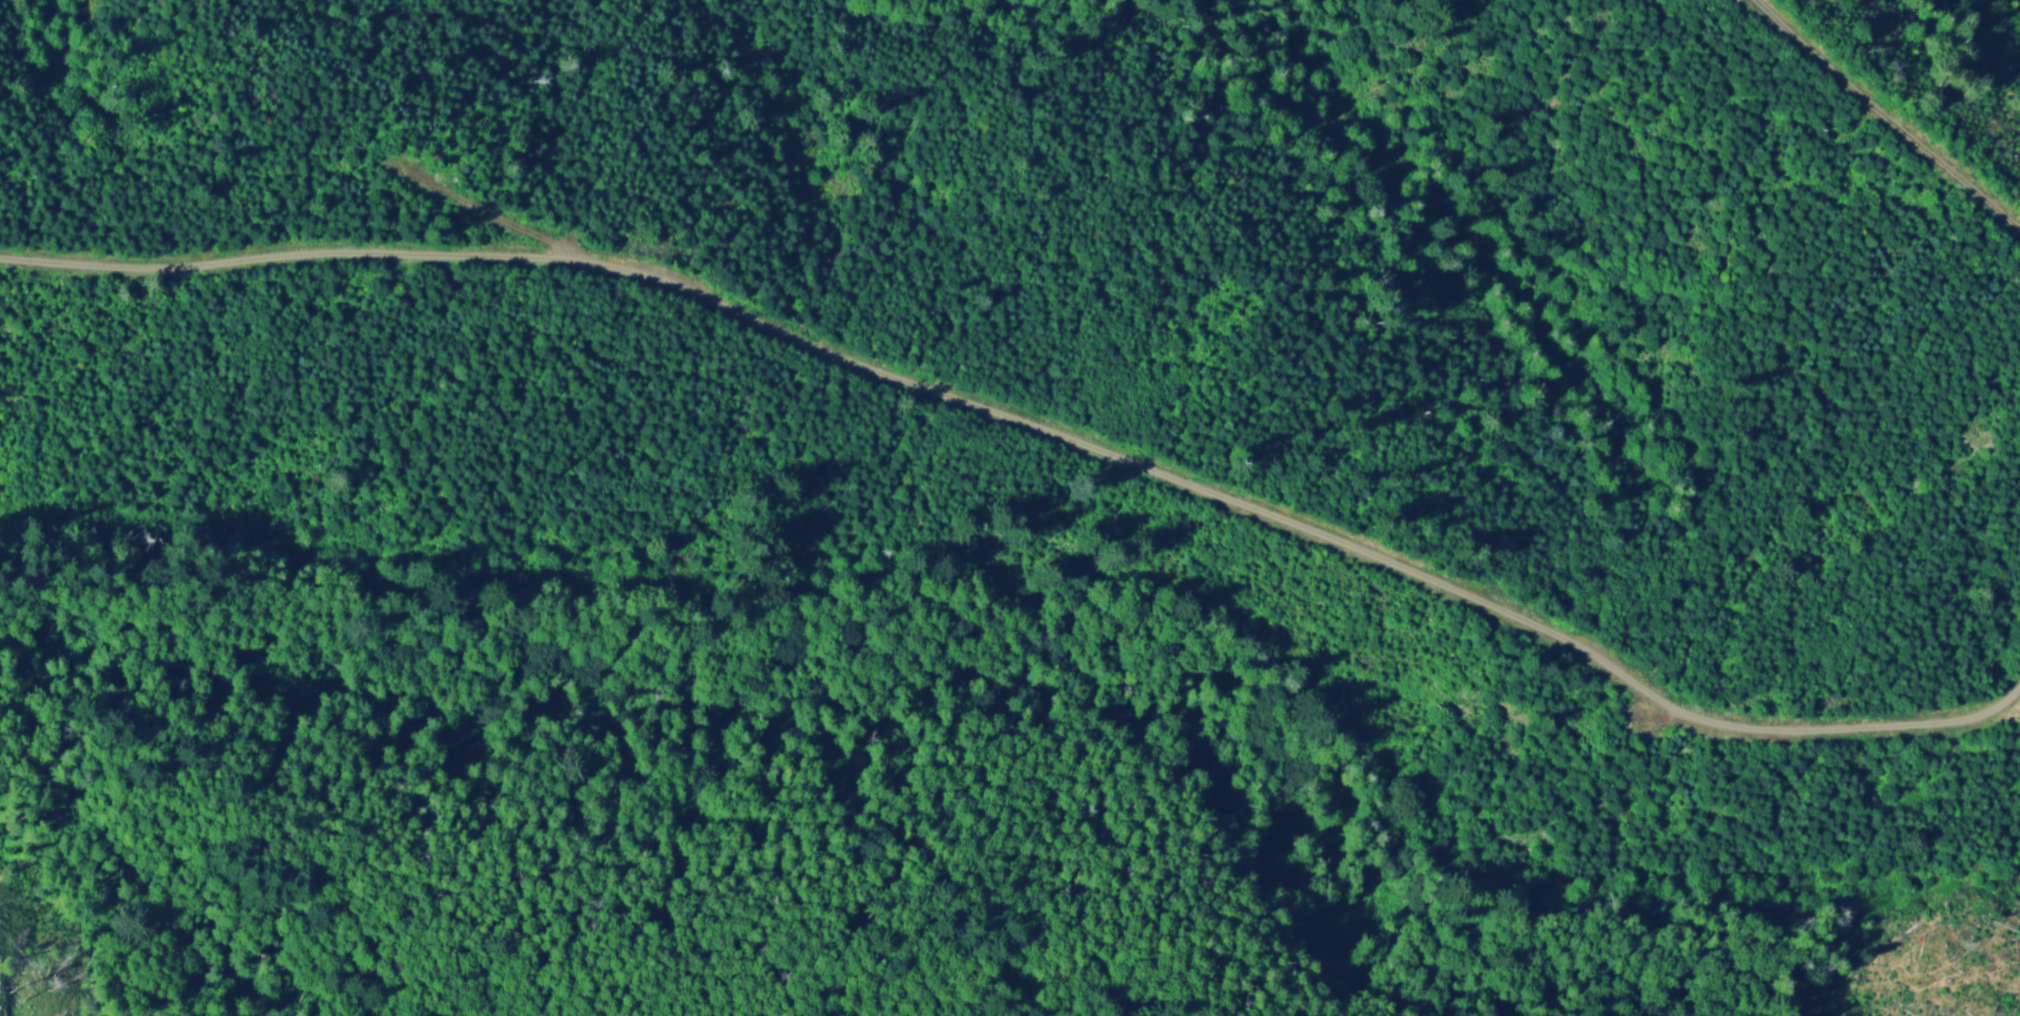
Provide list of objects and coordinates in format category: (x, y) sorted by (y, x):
road: (1886, 114)
road: (1032, 425)

